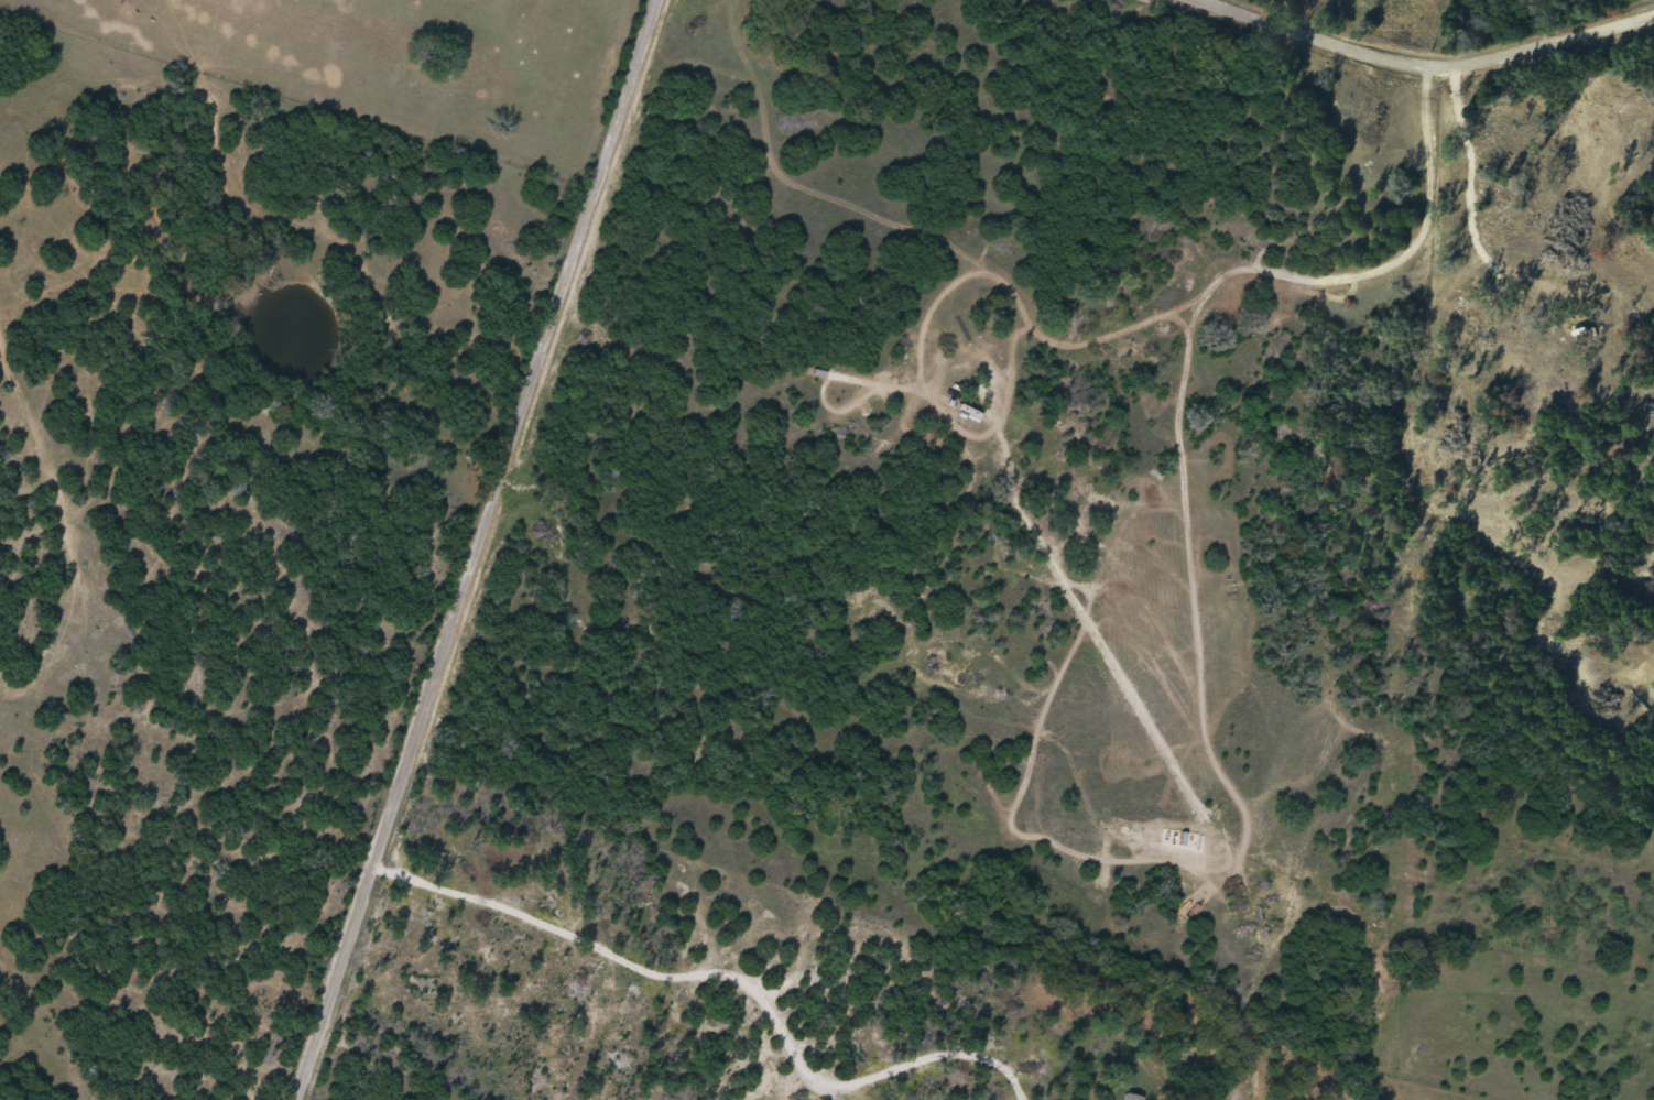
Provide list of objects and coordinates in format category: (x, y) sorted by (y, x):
road: (1428, 69)
road: (478, 549)
building: (1131, 1096)

